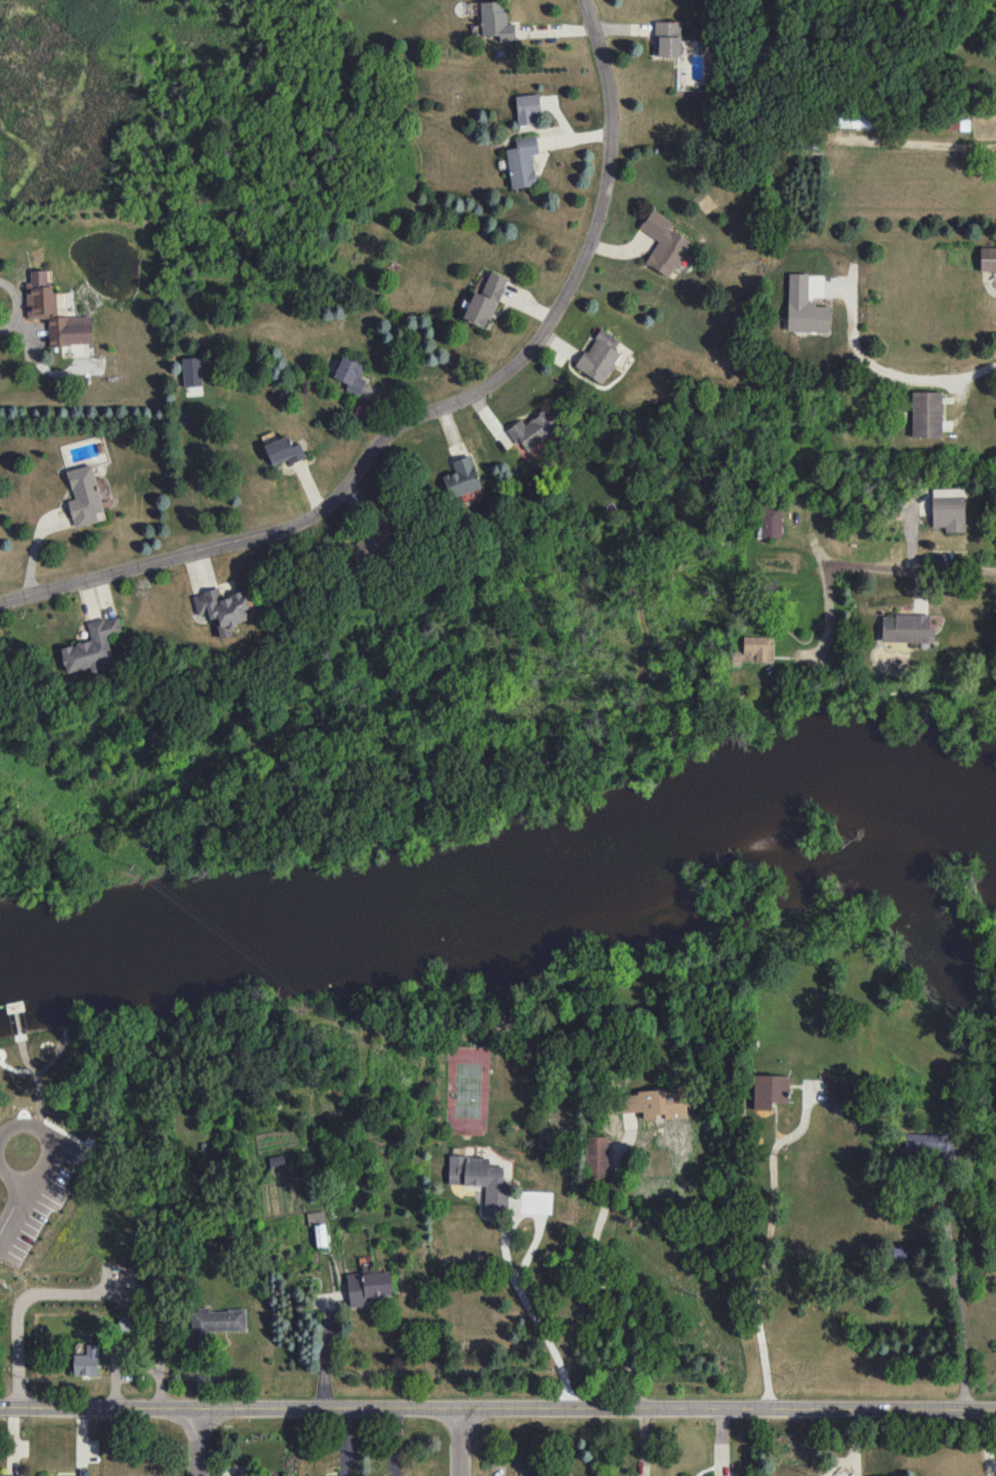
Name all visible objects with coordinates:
building: (496, 21)
building: (667, 38)
building: (527, 108)
road: (919, 142)
building: (522, 161)
building: (663, 243)
building: (987, 258)
building: (485, 300)
road: (12, 307)
building: (55, 313)
building: (600, 355)
building: (192, 371)
road: (897, 373)
building: (350, 374)
road: (431, 409)
building: (926, 414)
building: (533, 430)
building: (284, 450)
building: (462, 477)
building: (85, 496)
building: (948, 509)
building: (770, 520)
building: (378, 537)
road: (907, 576)
building: (223, 609)
road: (827, 627)
building: (905, 627)
building: (92, 646)
building: (755, 650)
river: (510, 880)
road: (16, 1061)
building: (837, 1089)
building: (769, 1090)
building: (654, 1103)
park: (81, 1133)
road: (14, 1135)
building: (930, 1145)
building: (597, 1156)
parking lot: (35, 1166)
building: (480, 1180)
building: (318, 1226)
road: (766, 1244)
road: (598, 1267)
building: (367, 1286)
road: (958, 1295)
road: (525, 1301)
road: (21, 1302)
building: (127, 1322)
building: (215, 1322)
road: (327, 1347)
building: (87, 1361)
road: (497, 1410)
road: (459, 1443)
road: (200, 1444)
building: (10, 1475)
building: (255, 1475)

